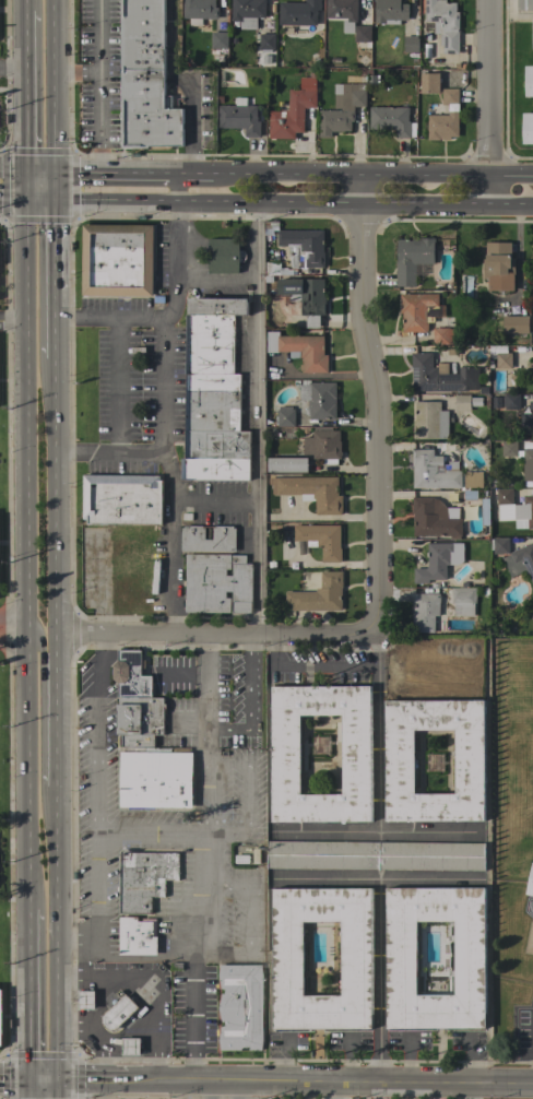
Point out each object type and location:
building: (525, 4)
road: (26, 5)
building: (199, 11)
building: (247, 12)
building: (298, 12)
building: (343, 12)
building: (390, 12)
building: (443, 23)
building: (266, 26)
building: (532, 33)
building: (362, 34)
building: (218, 39)
building: (265, 42)
building: (411, 44)
building: (265, 59)
building: (334, 60)
road: (12, 64)
building: (453, 66)
building: (365, 72)
building: (311, 73)
building: (451, 74)
building: (145, 79)
building: (460, 80)
road: (189, 81)
building: (371, 81)
building: (529, 81)
building: (429, 83)
road: (55, 86)
road: (99, 86)
road: (488, 88)
road: (24, 91)
building: (449, 96)
building: (220, 99)
building: (430, 108)
building: (342, 109)
building: (293, 110)
building: (239, 117)
building: (390, 119)
building: (442, 125)
building: (528, 128)
road: (12, 172)
traffic signals: (24, 173)
road: (39, 173)
traffic signals: (55, 174)
road: (134, 174)
road: (351, 175)
road: (510, 177)
road: (24, 186)
road: (488, 190)
traffic signals: (24, 200)
road: (27, 200)
traffic signals: (56, 200)
road: (272, 201)
road: (510, 202)
road: (56, 232)
building: (303, 247)
parking lot: (161, 256)
building: (224, 256)
building: (412, 258)
building: (117, 260)
building: (499, 267)
building: (271, 270)
building: (530, 285)
parking lot: (215, 292)
building: (532, 297)
building: (305, 298)
road: (174, 302)
building: (217, 306)
building: (415, 310)
road: (13, 320)
road: (58, 324)
building: (516, 324)
building: (441, 335)
building: (300, 350)
building: (504, 361)
building: (532, 366)
building: (440, 376)
rooftop solar panel: (415, 377)
rooftop solar panel: (449, 381)
parking lot: (137, 385)
road: (118, 386)
rooftop solar panel: (428, 387)
rooftop solar panel: (449, 388)
building: (319, 399)
building: (511, 401)
road: (378, 402)
building: (475, 402)
building: (495, 402)
building: (212, 403)
building: (462, 403)
building: (531, 405)
road: (26, 410)
road: (257, 416)
building: (285, 416)
building: (528, 419)
building: (429, 421)
road: (167, 440)
building: (323, 446)
building: (509, 449)
building: (287, 464)
building: (528, 464)
building: (434, 471)
road: (171, 475)
building: (473, 480)
building: (311, 492)
building: (504, 496)
road: (58, 497)
building: (122, 499)
road: (215, 500)
parking lot: (218, 504)
building: (524, 510)
building: (435, 518)
building: (486, 522)
road: (133, 533)
building: (223, 534)
building: (321, 540)
building: (499, 545)
building: (520, 560)
building: (437, 562)
road: (170, 566)
building: (132, 574)
building: (217, 583)
road: (98, 584)
building: (319, 594)
building: (463, 601)
building: (425, 612)
road: (14, 621)
road: (28, 631)
road: (240, 633)
road: (81, 635)
road: (14, 640)
building: (446, 651)
rooftop solar panel: (133, 655)
road: (311, 666)
building: (130, 675)
rooftop solar panel: (125, 688)
road: (43, 706)
road: (256, 710)
road: (58, 711)
building: (140, 716)
road: (378, 732)
road: (103, 734)
road: (206, 734)
building: (137, 741)
building: (355, 755)
building: (399, 761)
road: (27, 777)
building: (155, 778)
road: (209, 835)
building: (375, 855)
building: (144, 878)
building: (530, 882)
road: (59, 934)
building: (137, 936)
building: (287, 958)
building: (401, 958)
road: (381, 980)
building: (514, 992)
road: (27, 996)
building: (85, 1000)
road: (100, 1000)
building: (240, 1007)
building: (118, 1013)
building: (1, 1017)
building: (131, 1047)
road: (13, 1080)
traffic signals: (27, 1080)
road: (44, 1080)
traffic signals: (60, 1080)
road: (93, 1080)
road: (329, 1082)
road: (27, 1089)
road: (59, 1089)
road: (211, 1090)
road: (237, 1090)
road: (335, 1090)
road: (469, 1090)

